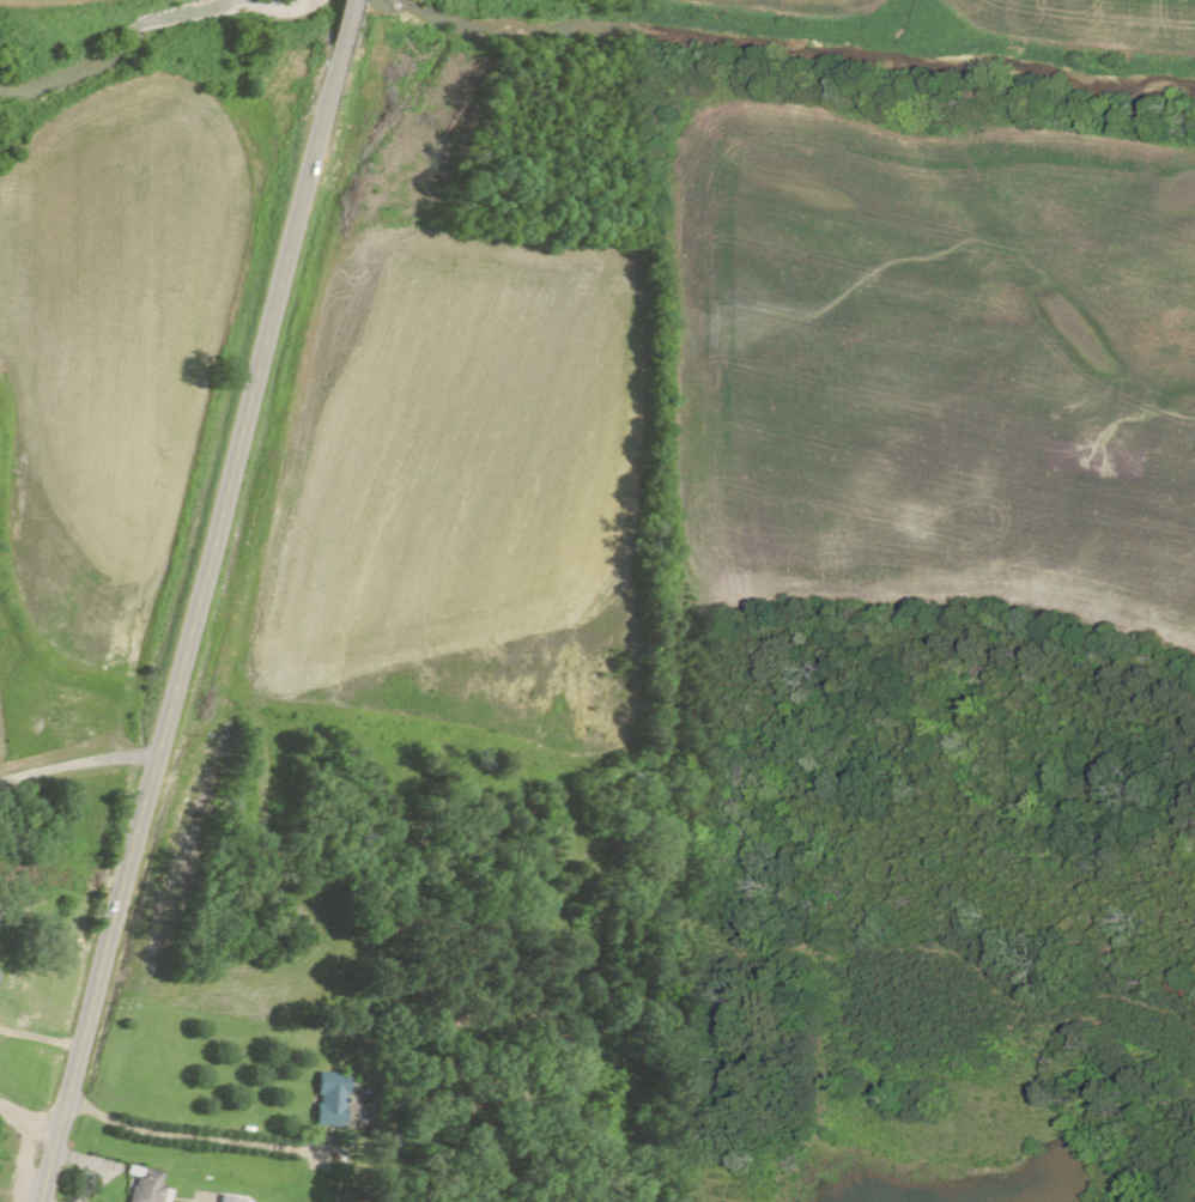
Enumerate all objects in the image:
road: (341, 23)
road: (186, 624)
building: (323, 1101)
building: (224, 1200)

